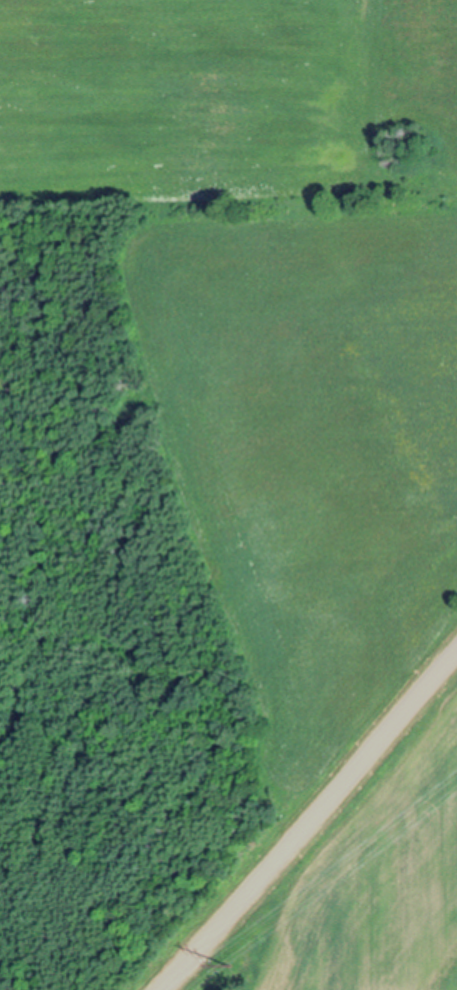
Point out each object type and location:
road: (308, 821)
crop: (371, 876)
power tower: (232, 967)

